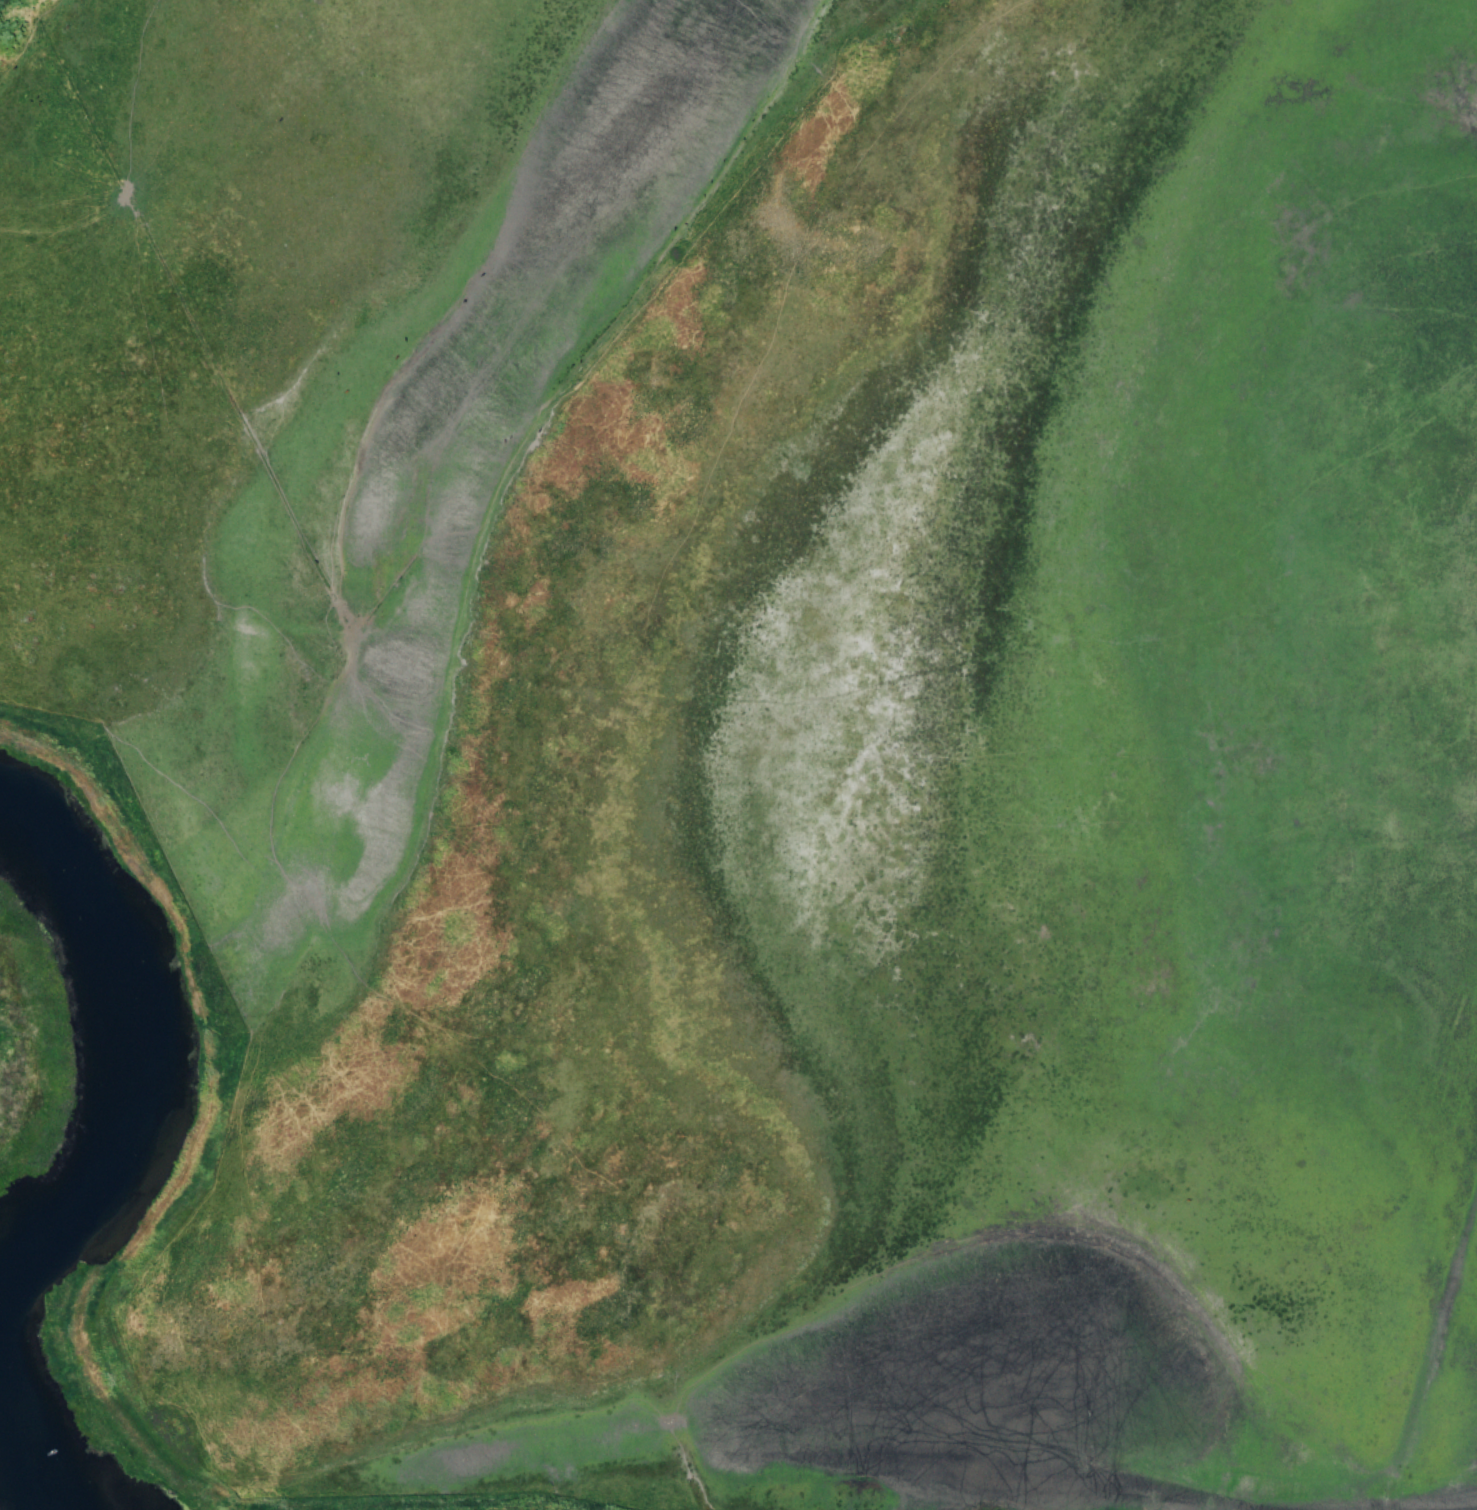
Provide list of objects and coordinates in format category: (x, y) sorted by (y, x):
river: (118, 1076)
river: (16, 1462)

